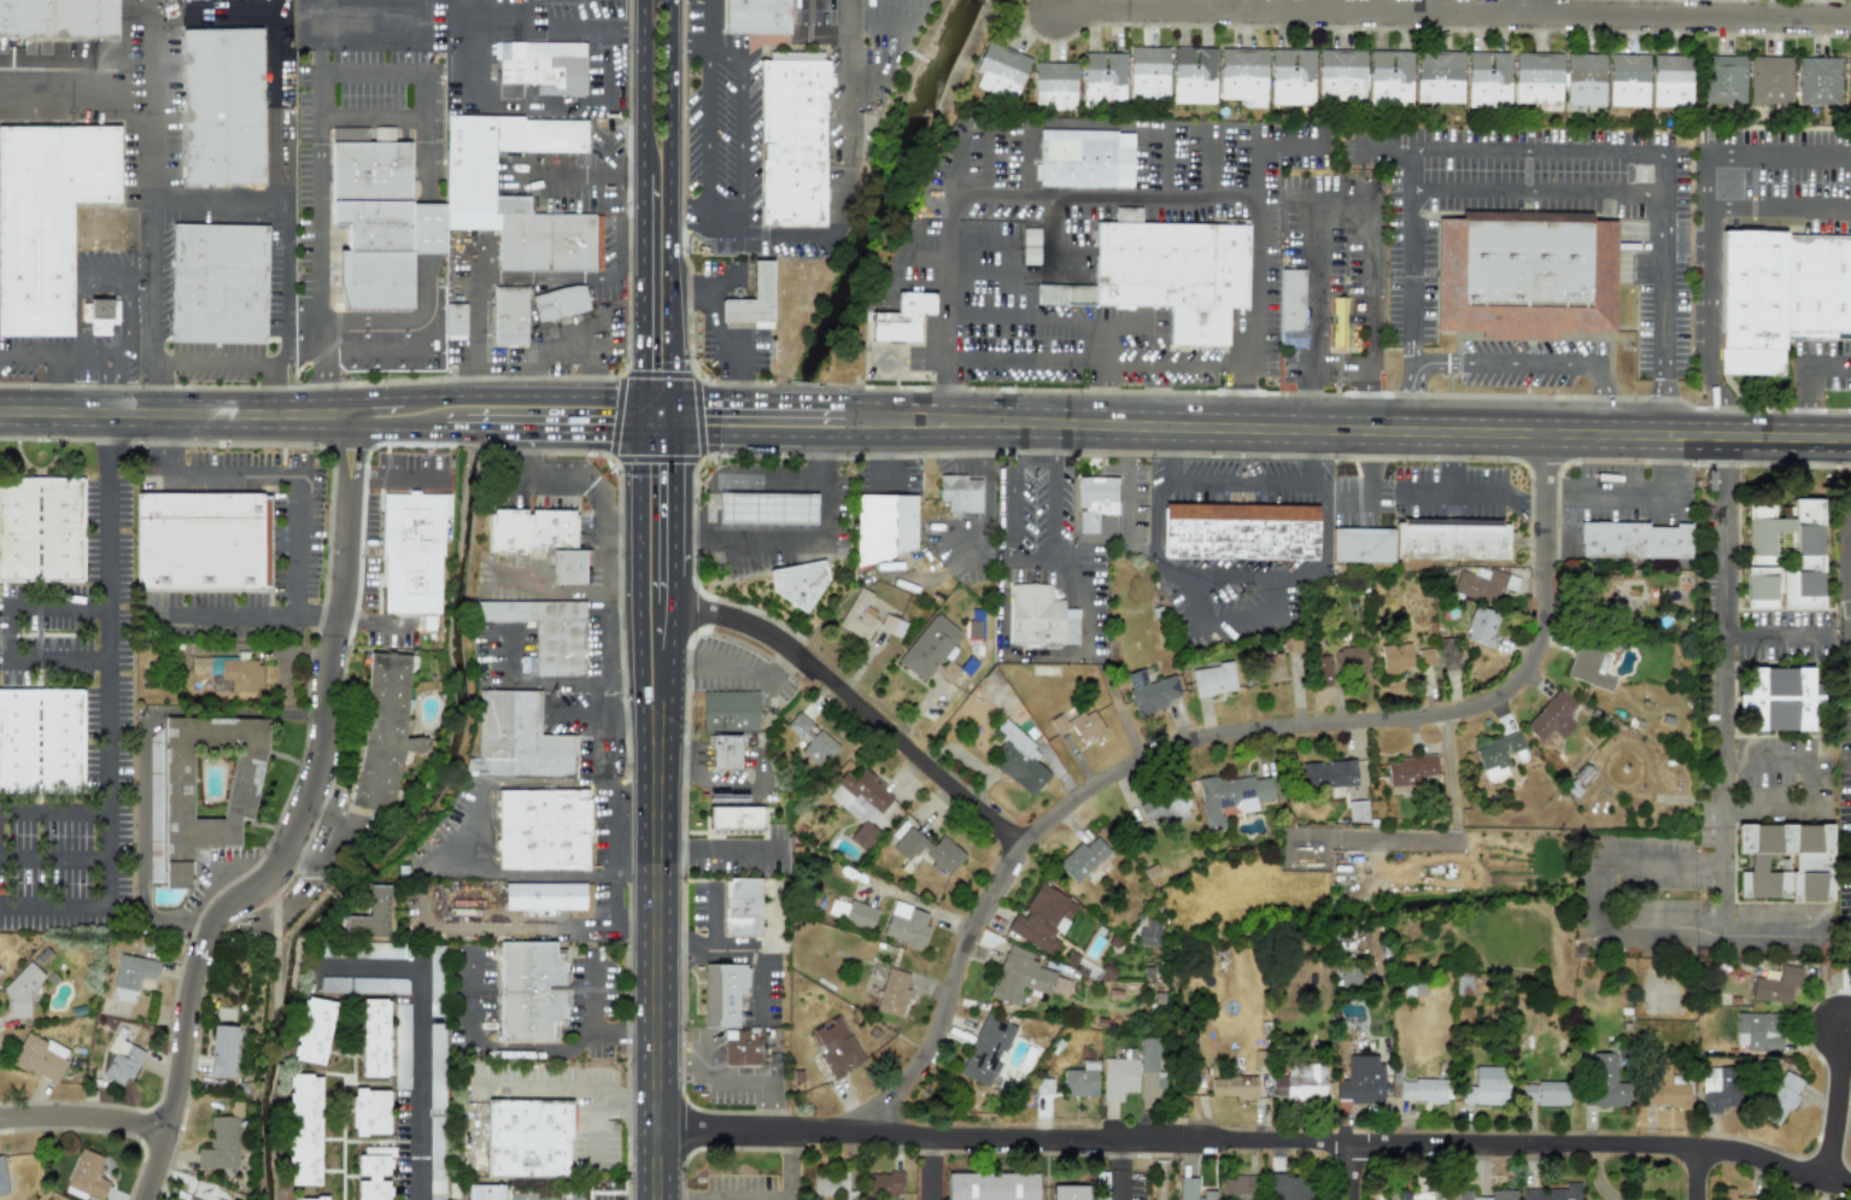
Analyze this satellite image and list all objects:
road: (1533, 7)
road: (1453, 13)
building: (756, 16)
building: (57, 18)
road: (878, 21)
road: (517, 24)
road: (710, 25)
road: (428, 43)
road: (127, 53)
road: (153, 60)
building: (541, 65)
building: (998, 70)
road: (393, 71)
building: (1147, 72)
building: (1340, 74)
building: (1193, 75)
building: (1242, 75)
building: (1290, 76)
building: (1439, 76)
building: (1388, 77)
building: (1536, 77)
road: (318, 78)
road: (847, 78)
road: (865, 78)
building: (1102, 78)
building: (1487, 78)
building: (1583, 78)
building: (1723, 78)
building: (1627, 80)
building: (1670, 80)
building: (1768, 80)
building: (1817, 80)
building: (1847, 81)
road: (645, 86)
building: (1053, 86)
road: (82, 94)
building: (223, 105)
road: (408, 117)
road: (742, 124)
road: (709, 134)
building: (792, 137)
road: (1289, 146)
road: (1383, 151)
road: (1547, 152)
road: (1781, 153)
building: (1084, 158)
road: (1213, 163)
road: (1168, 166)
road: (1257, 168)
road: (280, 170)
road: (582, 171)
road: (1029, 172)
building: (469, 174)
road: (988, 175)
road: (954, 178)
road: (1539, 193)
road: (672, 199)
road: (1343, 200)
road: (1112, 201)
road: (1781, 206)
road: (691, 217)
building: (47, 218)
building: (379, 228)
road: (812, 235)
building: (1029, 245)
road: (927, 254)
road: (153, 264)
road: (1710, 264)
building: (1168, 273)
building: (1524, 274)
road: (321, 280)
building: (219, 282)
road: (80, 285)
road: (644, 285)
road: (1370, 293)
building: (1779, 295)
building: (751, 299)
road: (1318, 300)
building: (558, 302)
building: (1290, 308)
road: (279, 309)
building: (98, 315)
building: (509, 316)
building: (901, 317)
road: (84, 318)
building: (455, 321)
road: (1043, 321)
building: (1337, 321)
road: (125, 330)
road: (719, 334)
road: (1105, 344)
road: (560, 352)
road: (57, 358)
road: (1024, 361)
road: (216, 363)
road: (1539, 363)
road: (1142, 365)
road: (1826, 367)
road: (660, 370)
road: (622, 373)
road: (696, 374)
road: (521, 394)
road: (1412, 396)
road: (107, 397)
traffic signals: (642, 397)
road: (656, 397)
traffic signals: (670, 398)
road: (780, 402)
road: (1800, 402)
road: (376, 403)
road: (1717, 406)
road: (1308, 409)
road: (1370, 409)
road: (1668, 409)
road: (176, 414)
road: (614, 415)
road: (640, 415)
road: (669, 415)
road: (701, 416)
road: (397, 428)
road: (453, 429)
road: (487, 429)
road: (1369, 429)
road: (575, 431)
traffic signals: (639, 433)
road: (654, 433)
traffic signals: (669, 433)
road: (779, 434)
road: (1017, 438)
road: (1058, 440)
road: (668, 452)
road: (638, 453)
road: (613, 458)
road: (702, 458)
road: (657, 461)
road: (1726, 463)
road: (1451, 464)
road: (1370, 466)
road: (736, 478)
road: (398, 479)
road: (1131, 480)
road: (578, 487)
road: (1243, 487)
building: (959, 493)
road: (1462, 496)
road: (1537, 496)
road: (1638, 497)
road: (1353, 499)
building: (1095, 501)
road: (1056, 505)
road: (988, 508)
building: (765, 509)
road: (299, 517)
road: (668, 522)
road: (1014, 525)
building: (884, 526)
building: (41, 529)
building: (529, 529)
building: (1238, 532)
gas station: (773, 535)
road: (793, 538)
building: (1449, 539)
building: (1634, 540)
building: (201, 542)
building: (1361, 545)
building: (412, 551)
building: (1783, 555)
building: (568, 567)
road: (1238, 574)
road: (619, 576)
road: (1847, 581)
building: (797, 583)
building: (1482, 584)
building: (1604, 586)
road: (667, 590)
road: (637, 598)
road: (1082, 601)
road: (1190, 601)
road: (33, 604)
road: (696, 610)
road: (1254, 614)
building: (867, 617)
building: (1039, 617)
road: (376, 624)
building: (1481, 626)
road: (666, 627)
road: (604, 628)
building: (545, 631)
road: (1769, 638)
building: (1291, 645)
building: (929, 646)
building: (1448, 654)
road: (55, 657)
building: (1395, 657)
building: (1424, 657)
building: (1348, 661)
building: (1265, 667)
building: (1589, 667)
road: (720, 669)
building: (1323, 671)
building: (241, 674)
building: (1212, 679)
road: (575, 680)
road: (663, 684)
building: (1150, 691)
building: (1779, 698)
road: (855, 703)
road: (109, 709)
building: (728, 710)
building: (1551, 716)
building: (1079, 725)
building: (383, 728)
building: (516, 738)
road: (1229, 738)
building: (41, 741)
building: (812, 742)
road: (142, 743)
building: (725, 751)
building: (1496, 755)
building: (1018, 759)
road: (1722, 762)
building: (1408, 772)
building: (1328, 774)
road: (1447, 775)
road: (1815, 789)
building: (199, 790)
building: (1231, 796)
road: (615, 802)
building: (861, 803)
building: (1164, 809)
building: (1357, 810)
road: (54, 812)
building: (734, 819)
road: (298, 826)
building: (541, 830)
building: (929, 850)
road: (713, 851)
road: (635, 854)
road: (52, 857)
building: (1082, 859)
building: (1786, 861)
road: (221, 880)
building: (1741, 884)
road: (1591, 895)
building: (547, 898)
building: (740, 907)
building: (851, 913)
building: (370, 915)
building: (1042, 919)
building: (906, 925)
road: (609, 930)
road: (193, 932)
building: (1149, 933)
road: (715, 949)
building: (379, 950)
road: (656, 959)
road: (757, 962)
building: (1080, 966)
building: (130, 976)
building: (1024, 977)
building: (1349, 977)
building: (435, 981)
building: (334, 984)
building: (379, 985)
building: (1775, 985)
building: (531, 990)
building: (892, 991)
building: (20, 994)
building: (722, 994)
building: (312, 1031)
building: (1758, 1031)
road: (592, 1032)
building: (374, 1037)
road: (418, 1037)
building: (400, 1046)
building: (740, 1047)
building: (836, 1047)
road: (491, 1048)
building: (221, 1050)
building: (986, 1050)
building: (1148, 1054)
building: (40, 1058)
building: (121, 1061)
building: (437, 1066)
building: (1118, 1078)
building: (1080, 1081)
building: (1361, 1081)
road: (727, 1082)
building: (1604, 1082)
building: (1299, 1084)
building: (1043, 1085)
building: (1234, 1087)
building: (1486, 1087)
road: (535, 1088)
building: (1416, 1089)
building: (1664, 1089)
building: (1718, 1089)
building: (1545, 1094)
building: (1780, 1097)
building: (370, 1112)
road: (1843, 1112)
road: (83, 1118)
road: (596, 1125)
building: (303, 1130)
building: (527, 1138)
building: (221, 1145)
road: (1255, 1145)
building: (435, 1158)
road: (786, 1166)
road: (927, 1169)
road: (1120, 1170)
building: (374, 1173)
road: (1355, 1173)
building: (2, 1177)
building: (86, 1177)
road: (1701, 1178)
building: (884, 1184)
building: (832, 1186)
building: (991, 1186)
building: (1101, 1186)
building: (1238, 1188)
building: (1290, 1188)
building: (1193, 1190)
building: (484, 1192)
building: (1070, 1193)
building: (1503, 1193)
building: (1553, 1193)
building: (1733, 1195)
building: (189, 1198)
building: (1418, 1198)
building: (46, 1199)
building: (310, 1199)
road: (603, 1199)

